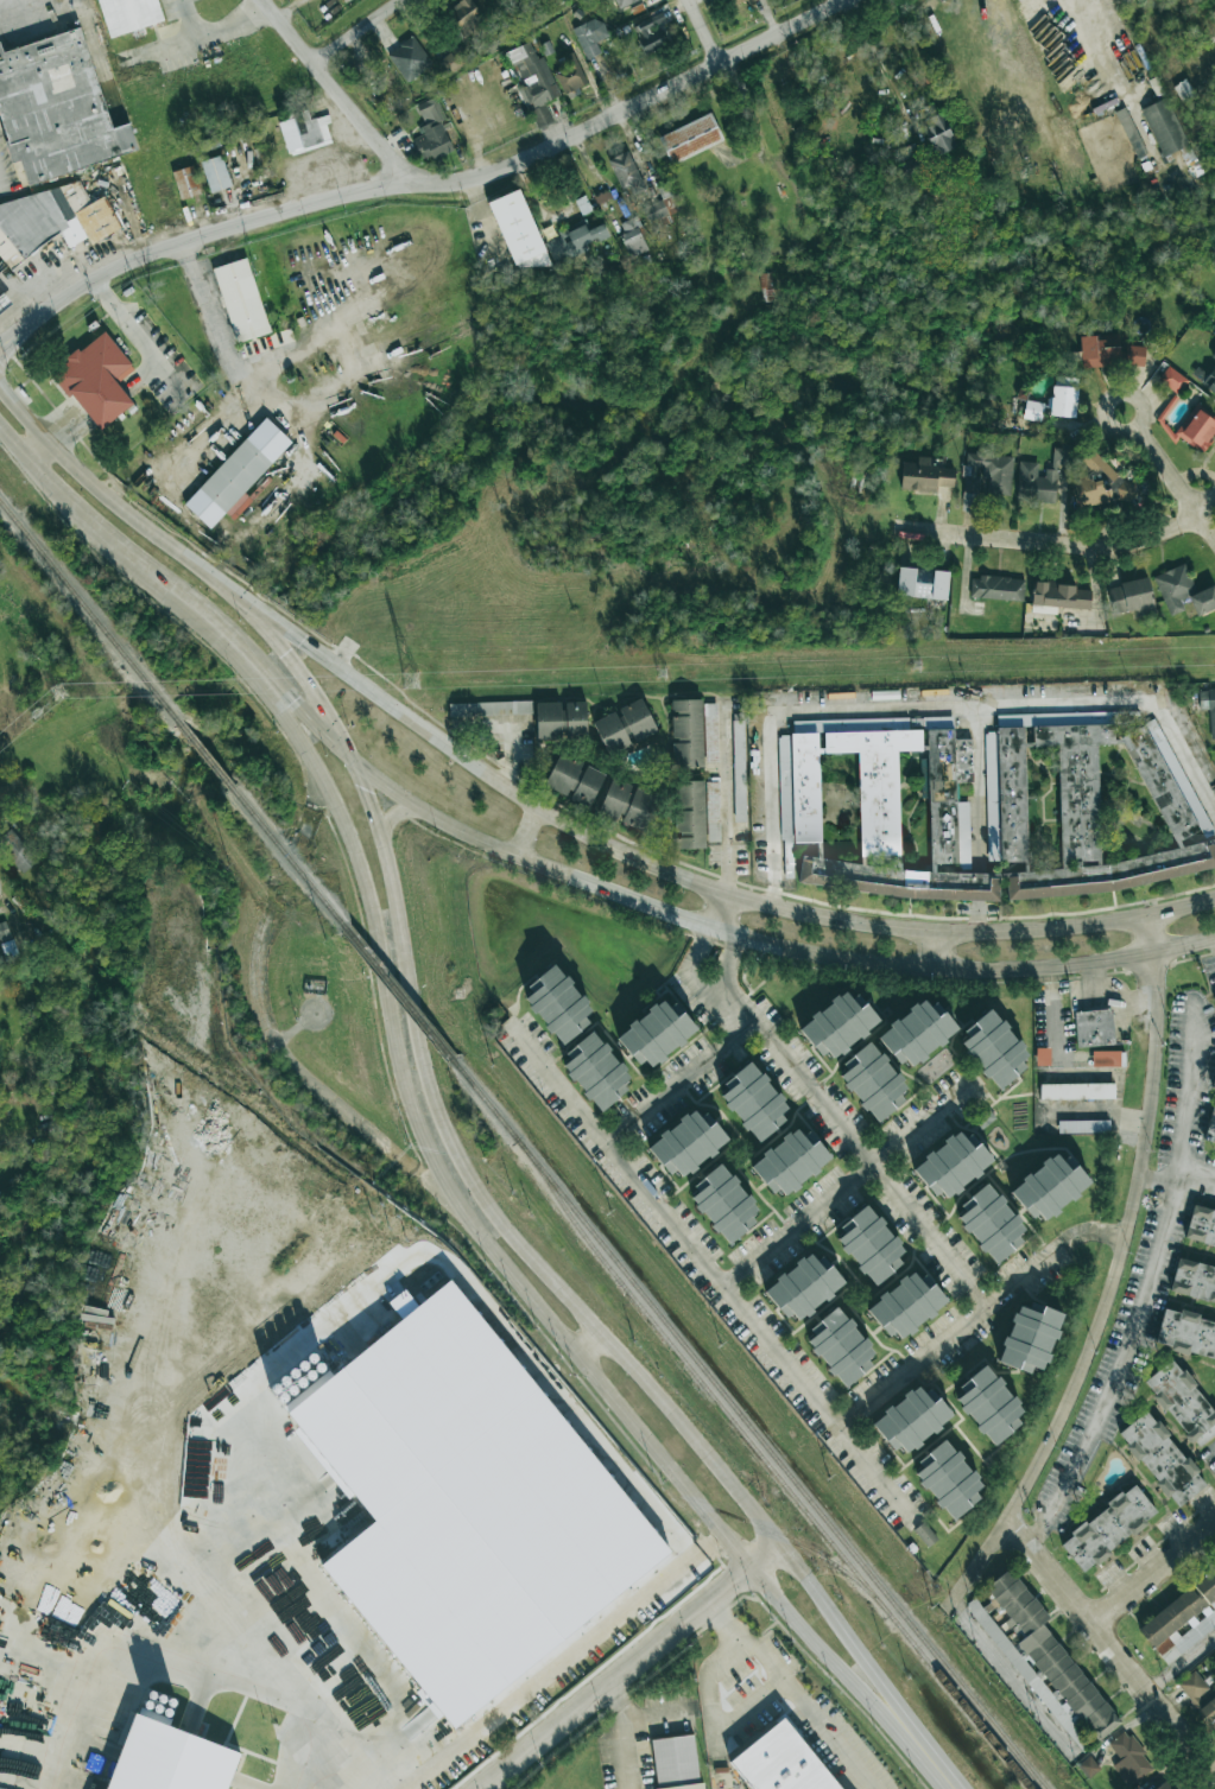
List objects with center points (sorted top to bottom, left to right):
road: (1, 0)
road: (0, 1)
building: (734, 1)
building: (493, 2)
building: (552, 2)
building: (624, 2)
building: (129, 14)
building: (464, 15)
road: (188, 19)
road: (361, 31)
road: (700, 33)
building: (648, 36)
road: (196, 37)
building: (590, 37)
road: (1102, 49)
road: (872, 55)
building: (409, 59)
building: (454, 61)
building: (569, 74)
building: (532, 76)
road: (335, 85)
building: (56, 112)
building: (1164, 127)
building: (431, 131)
building: (304, 132)
building: (938, 134)
building: (690, 139)
building: (259, 159)
building: (911, 160)
building: (625, 170)
building: (215, 173)
road: (423, 180)
building: (185, 183)
building: (602, 198)
building: (662, 209)
building: (58, 220)
building: (518, 230)
building: (632, 237)
building: (575, 242)
building: (2, 268)
building: (766, 287)
building: (242, 300)
building: (4, 302)
road: (129, 329)
building: (1099, 351)
building: (1135, 356)
building: (1213, 356)
building: (1172, 380)
building: (1209, 381)
building: (96, 382)
road: (251, 398)
building: (1063, 401)
building: (1032, 411)
road: (24, 413)
road: (1105, 413)
building: (1197, 429)
road: (13, 442)
road: (37, 449)
building: (988, 472)
building: (239, 476)
building: (924, 476)
building: (1040, 477)
road: (89, 482)
road: (1175, 483)
road: (52, 486)
building: (1125, 491)
building: (1090, 493)
road: (1062, 543)
road: (127, 553)
building: (922, 583)
building: (996, 588)
building: (1173, 588)
building: (1059, 597)
building: (1131, 597)
building: (1203, 601)
railway: (89, 611)
road: (217, 621)
road: (262, 630)
power tower: (917, 667)
power tower: (660, 675)
power tower: (412, 683)
power tower: (59, 692)
building: (1208, 705)
building: (489, 709)
road: (928, 709)
road: (303, 713)
building: (561, 721)
building: (624, 727)
building: (711, 727)
building: (686, 732)
railway: (205, 755)
road: (512, 757)
traffic signals: (355, 770)
building: (739, 770)
building: (574, 780)
building: (713, 798)
road: (726, 798)
building: (627, 805)
road: (368, 807)
building: (1099, 807)
building: (874, 808)
road: (392, 812)
building: (689, 814)
road: (976, 819)
road: (524, 835)
road: (597, 842)
building: (17, 850)
railway: (290, 858)
road: (1181, 906)
road: (719, 913)
building: (4, 933)
road: (767, 946)
road: (698, 950)
road: (932, 950)
road: (726, 959)
road: (704, 987)
railway: (401, 995)
building: (1214, 998)
building: (557, 1004)
road: (736, 1008)
building: (837, 1026)
building: (1094, 1028)
building: (656, 1034)
building: (916, 1034)
road: (1052, 1048)
building: (993, 1049)
building: (595, 1071)
road: (309, 1080)
building: (872, 1081)
road: (678, 1083)
building: (1213, 1085)
building: (1076, 1091)
building: (753, 1102)
building: (1083, 1127)
building: (1210, 1129)
building: (686, 1144)
building: (790, 1162)
road: (869, 1166)
building: (951, 1166)
road: (1196, 1173)
road: (850, 1182)
road: (1157, 1182)
building: (1049, 1188)
building: (723, 1204)
building: (991, 1223)
building: (1201, 1225)
road: (481, 1239)
building: (871, 1245)
road: (713, 1274)
road: (1115, 1280)
building: (1194, 1281)
road: (1145, 1286)
building: (803, 1288)
building: (906, 1305)
road: (583, 1307)
road: (977, 1312)
building: (1186, 1333)
building: (1030, 1339)
road: (588, 1341)
building: (840, 1346)
building: (296, 1377)
building: (1183, 1402)
building: (988, 1404)
building: (911, 1420)
railway: (748, 1428)
building: (1162, 1459)
railway: (770, 1466)
railway: (551, 1474)
building: (948, 1479)
building: (466, 1504)
building: (1108, 1528)
building: (924, 1534)
railway: (844, 1572)
road: (1153, 1573)
building: (238, 1590)
building: (214, 1600)
building: (1181, 1617)
road: (1112, 1648)
road: (562, 1661)
building: (1045, 1663)
road: (1182, 1664)
road: (633, 1668)
road: (176, 1669)
road: (1015, 1680)
road: (793, 1692)
building: (1200, 1698)
road: (716, 1721)
road: (629, 1734)
road: (925, 1752)
building: (1131, 1755)
building: (167, 1759)
building: (783, 1762)
building: (677, 1763)
building: (2, 1764)
road: (310, 1766)
building: (1088, 1766)
road: (350, 1774)
building: (1163, 1785)
building: (1, 1788)

